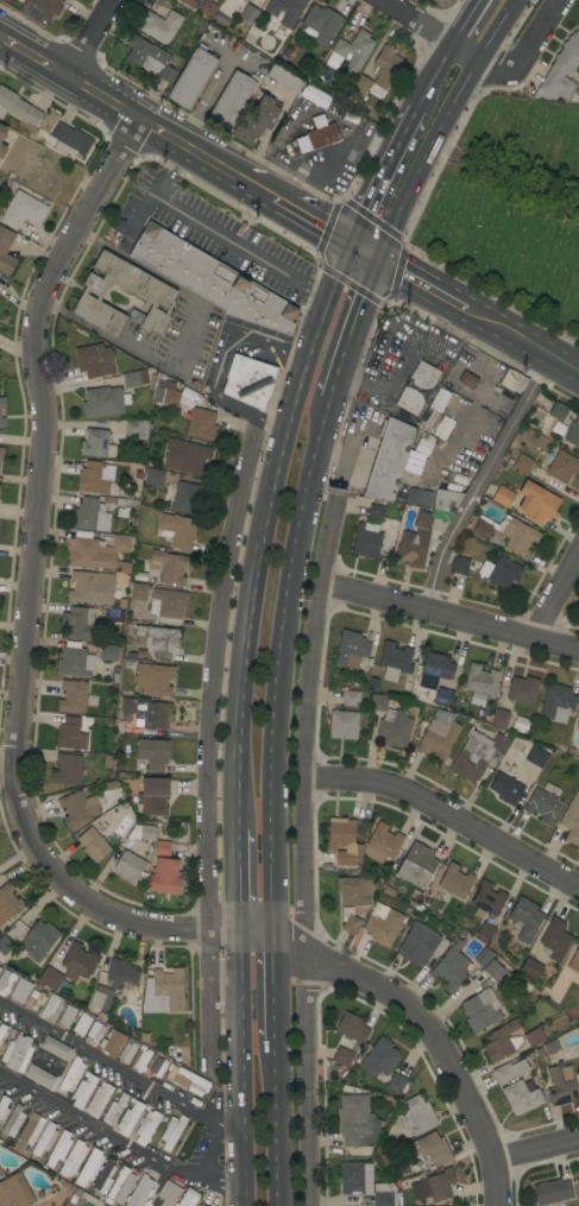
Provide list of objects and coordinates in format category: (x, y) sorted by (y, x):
building: (241, 0)
building: (188, 2)
building: (207, 8)
building: (43, 10)
building: (285, 11)
building: (247, 12)
road: (420, 20)
road: (466, 20)
building: (320, 24)
building: (161, 26)
road: (95, 37)
road: (14, 43)
building: (350, 52)
building: (146, 55)
road: (50, 63)
road: (518, 63)
building: (383, 70)
building: (560, 70)
building: (166, 74)
road: (432, 75)
building: (191, 77)
building: (285, 77)
building: (358, 89)
building: (577, 93)
road: (105, 94)
building: (231, 101)
building: (18, 107)
building: (257, 121)
road: (439, 122)
road: (164, 128)
building: (2, 131)
building: (317, 135)
building: (69, 140)
building: (2, 150)
road: (234, 170)
road: (378, 171)
park: (512, 208)
building: (23, 209)
road: (313, 215)
road: (213, 234)
traffic signals: (350, 236)
building: (5, 244)
road: (363, 244)
traffic signals: (376, 252)
road: (335, 267)
building: (210, 279)
road: (421, 279)
building: (155, 296)
road: (350, 324)
road: (523, 339)
building: (94, 360)
road: (215, 361)
building: (133, 379)
building: (248, 380)
building: (467, 381)
building: (512, 381)
building: (417, 387)
building: (170, 397)
building: (439, 399)
building: (1, 402)
building: (103, 402)
building: (558, 411)
building: (430, 418)
building: (1, 423)
building: (201, 424)
building: (132, 428)
building: (573, 432)
building: (96, 444)
building: (578, 448)
building: (1, 454)
building: (185, 457)
building: (390, 460)
building: (522, 463)
building: (562, 467)
building: (153, 478)
building: (92, 479)
road: (480, 480)
building: (185, 497)
building: (503, 497)
building: (446, 500)
building: (537, 503)
building: (376, 512)
building: (89, 514)
building: (441, 516)
building: (480, 529)
building: (177, 530)
building: (518, 537)
building: (366, 541)
building: (414, 542)
building: (120, 543)
building: (88, 554)
road: (257, 560)
building: (459, 566)
building: (169, 567)
building: (499, 572)
building: (139, 575)
road: (31, 587)
building: (90, 587)
building: (138, 592)
road: (555, 598)
building: (166, 604)
building: (115, 615)
road: (448, 617)
building: (78, 624)
building: (158, 640)
building: (351, 650)
building: (109, 653)
building: (74, 661)
building: (394, 661)
road: (277, 665)
building: (435, 670)
building: (152, 680)
building: (372, 682)
building: (480, 683)
building: (522, 690)
building: (73, 696)
building: (443, 697)
building: (351, 699)
building: (556, 703)
building: (147, 713)
building: (499, 718)
building: (577, 721)
building: (390, 722)
building: (342, 725)
building: (520, 725)
building: (70, 734)
building: (438, 735)
road: (204, 747)
building: (152, 753)
building: (476, 754)
building: (536, 756)
road: (4, 768)
building: (67, 769)
building: (505, 787)
building: (153, 796)
building: (542, 803)
building: (80, 807)
road: (445, 815)
building: (572, 820)
building: (146, 833)
building: (344, 841)
building: (382, 844)
building: (93, 845)
road: (301, 850)
building: (416, 865)
building: (128, 866)
building: (163, 871)
road: (237, 882)
building: (454, 882)
building: (353, 891)
building: (486, 899)
building: (8, 902)
building: (524, 918)
building: (348, 921)
building: (383, 927)
building: (485, 932)
building: (38, 940)
building: (554, 940)
building: (417, 945)
building: (5, 946)
building: (78, 961)
building: (574, 961)
building: (449, 967)
building: (0, 968)
building: (530, 968)
building: (495, 972)
building: (121, 974)
building: (50, 979)
building: (5, 981)
road: (272, 987)
building: (555, 987)
building: (20, 991)
building: (164, 991)
building: (34, 998)
building: (101, 998)
building: (50, 1009)
building: (480, 1010)
building: (67, 1016)
road: (418, 1019)
building: (81, 1025)
building: (351, 1028)
building: (2, 1030)
building: (97, 1033)
building: (534, 1037)
building: (499, 1042)
building: (111, 1043)
building: (55, 1047)
building: (550, 1047)
building: (15, 1052)
building: (126, 1053)
building: (342, 1057)
building: (379, 1057)
building: (141, 1061)
road: (119, 1068)
building: (156, 1068)
road: (240, 1069)
building: (170, 1071)
building: (509, 1071)
building: (71, 1074)
building: (39, 1075)
building: (190, 1081)
building: (396, 1084)
building: (560, 1085)
building: (82, 1091)
building: (521, 1098)
building: (97, 1100)
building: (2, 1107)
building: (114, 1110)
building: (415, 1116)
building: (128, 1117)
building: (12, 1122)
road: (275, 1122)
building: (357, 1122)
building: (146, 1126)
building: (29, 1131)
building: (171, 1132)
building: (44, 1138)
road: (117, 1141)
road: (534, 1144)
building: (432, 1148)
building: (58, 1149)
building: (73, 1160)
building: (88, 1168)
building: (103, 1176)
building: (354, 1177)
building: (120, 1185)
building: (440, 1185)
building: (14, 1192)
building: (140, 1192)
building: (552, 1192)
building: (166, 1194)
building: (384, 1194)
building: (188, 1198)
building: (197, 1205)
building: (201, 1205)

